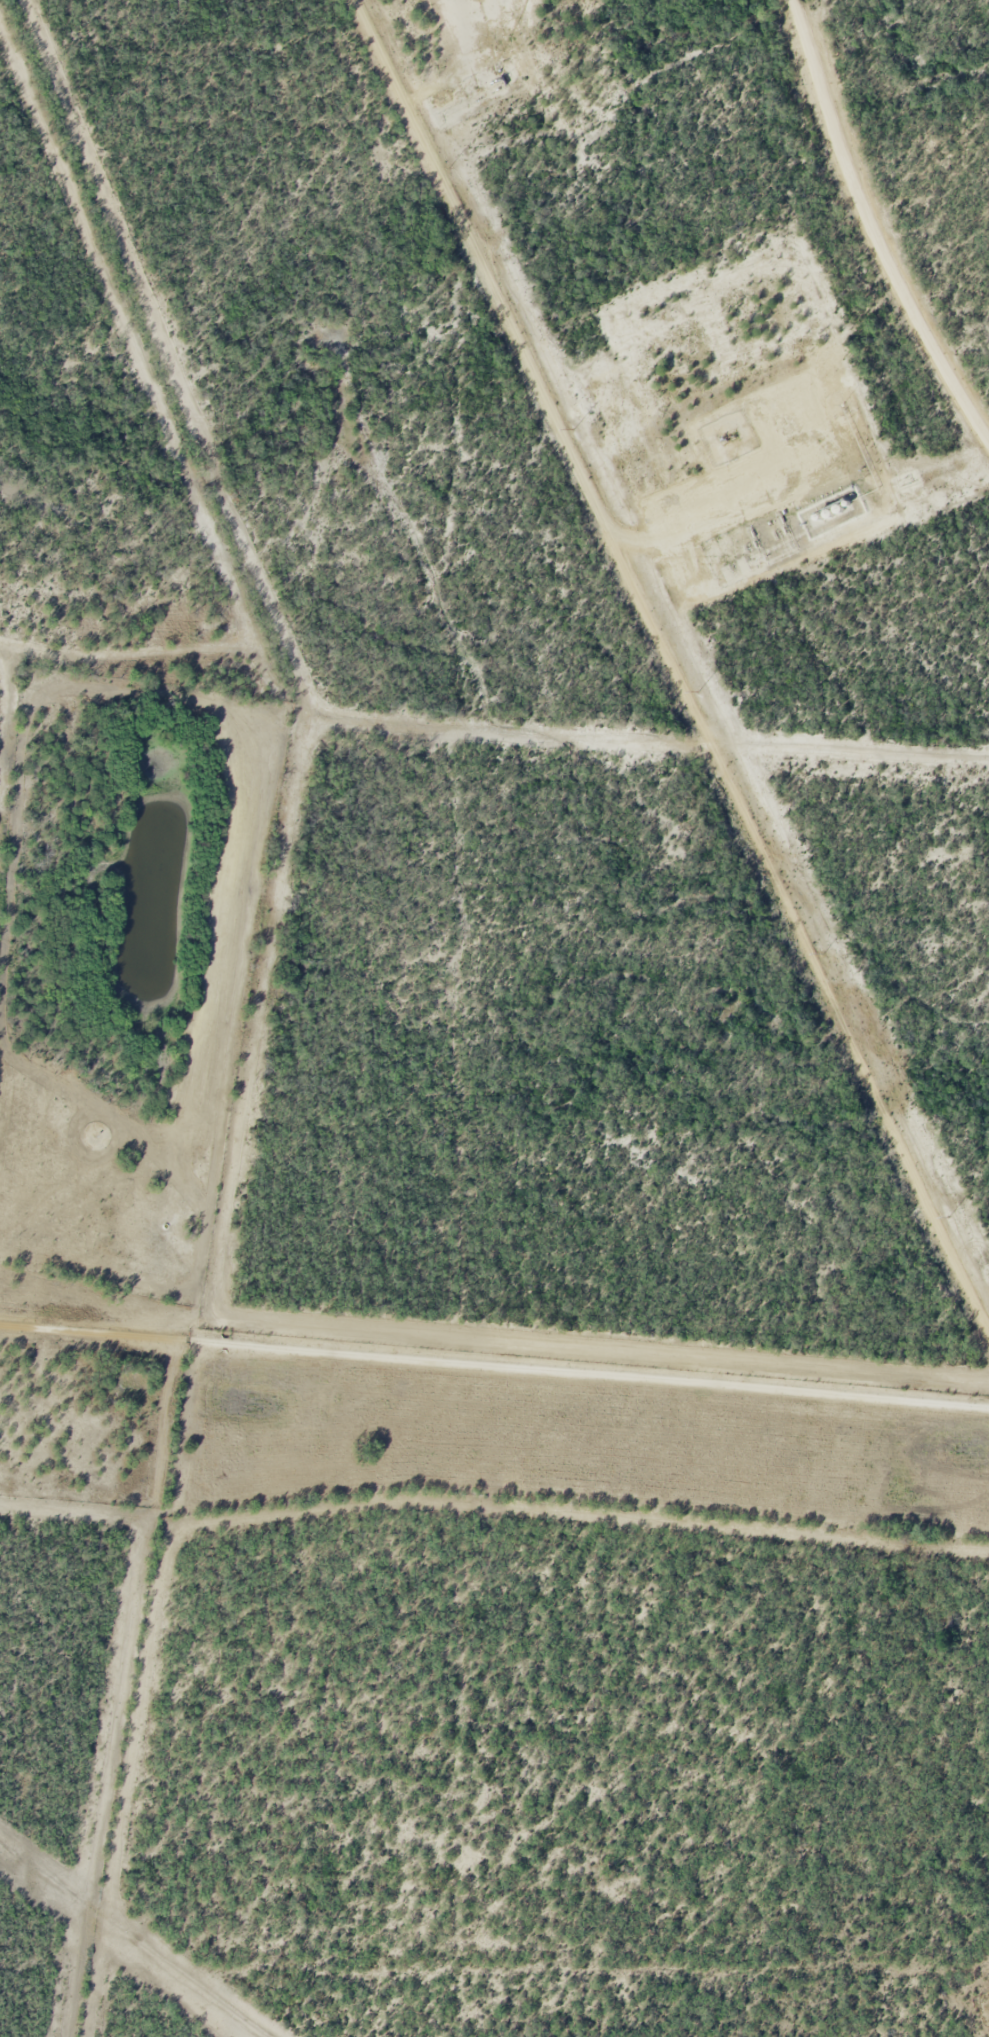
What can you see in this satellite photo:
power tower: (447, 167)
road: (873, 226)
power tower: (573, 428)
power tower: (698, 688)
power tower: (826, 953)
power tower: (951, 1218)
road: (494, 1365)

